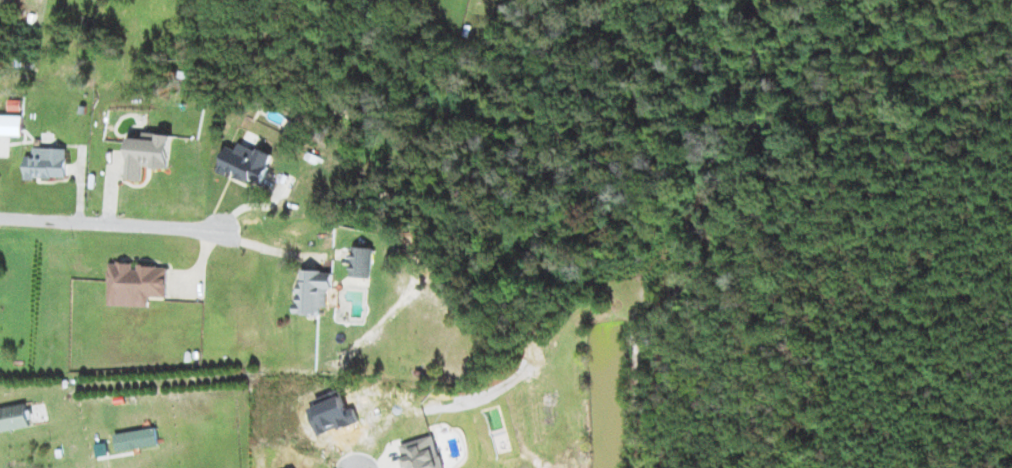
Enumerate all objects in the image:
building: (11, 125)
building: (149, 154)
building: (48, 163)
building: (247, 163)
road: (109, 224)
building: (362, 262)
building: (136, 284)
building: (313, 291)
building: (14, 417)
building: (137, 439)
building: (422, 453)

